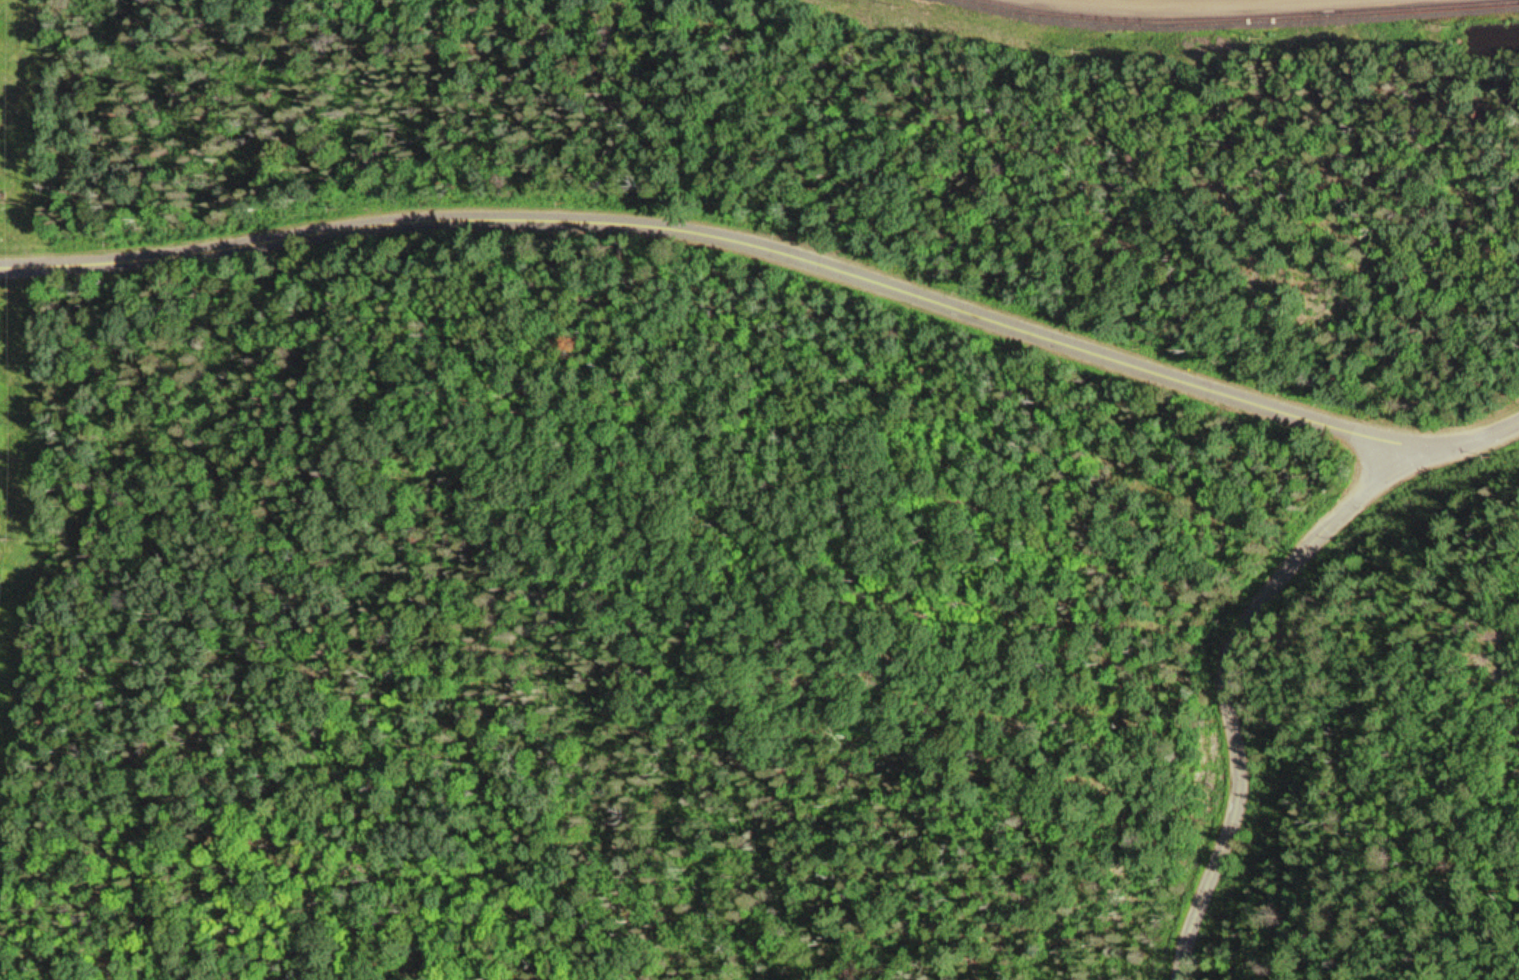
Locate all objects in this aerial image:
road: (1149, 42)
road: (722, 230)
road: (1241, 632)

